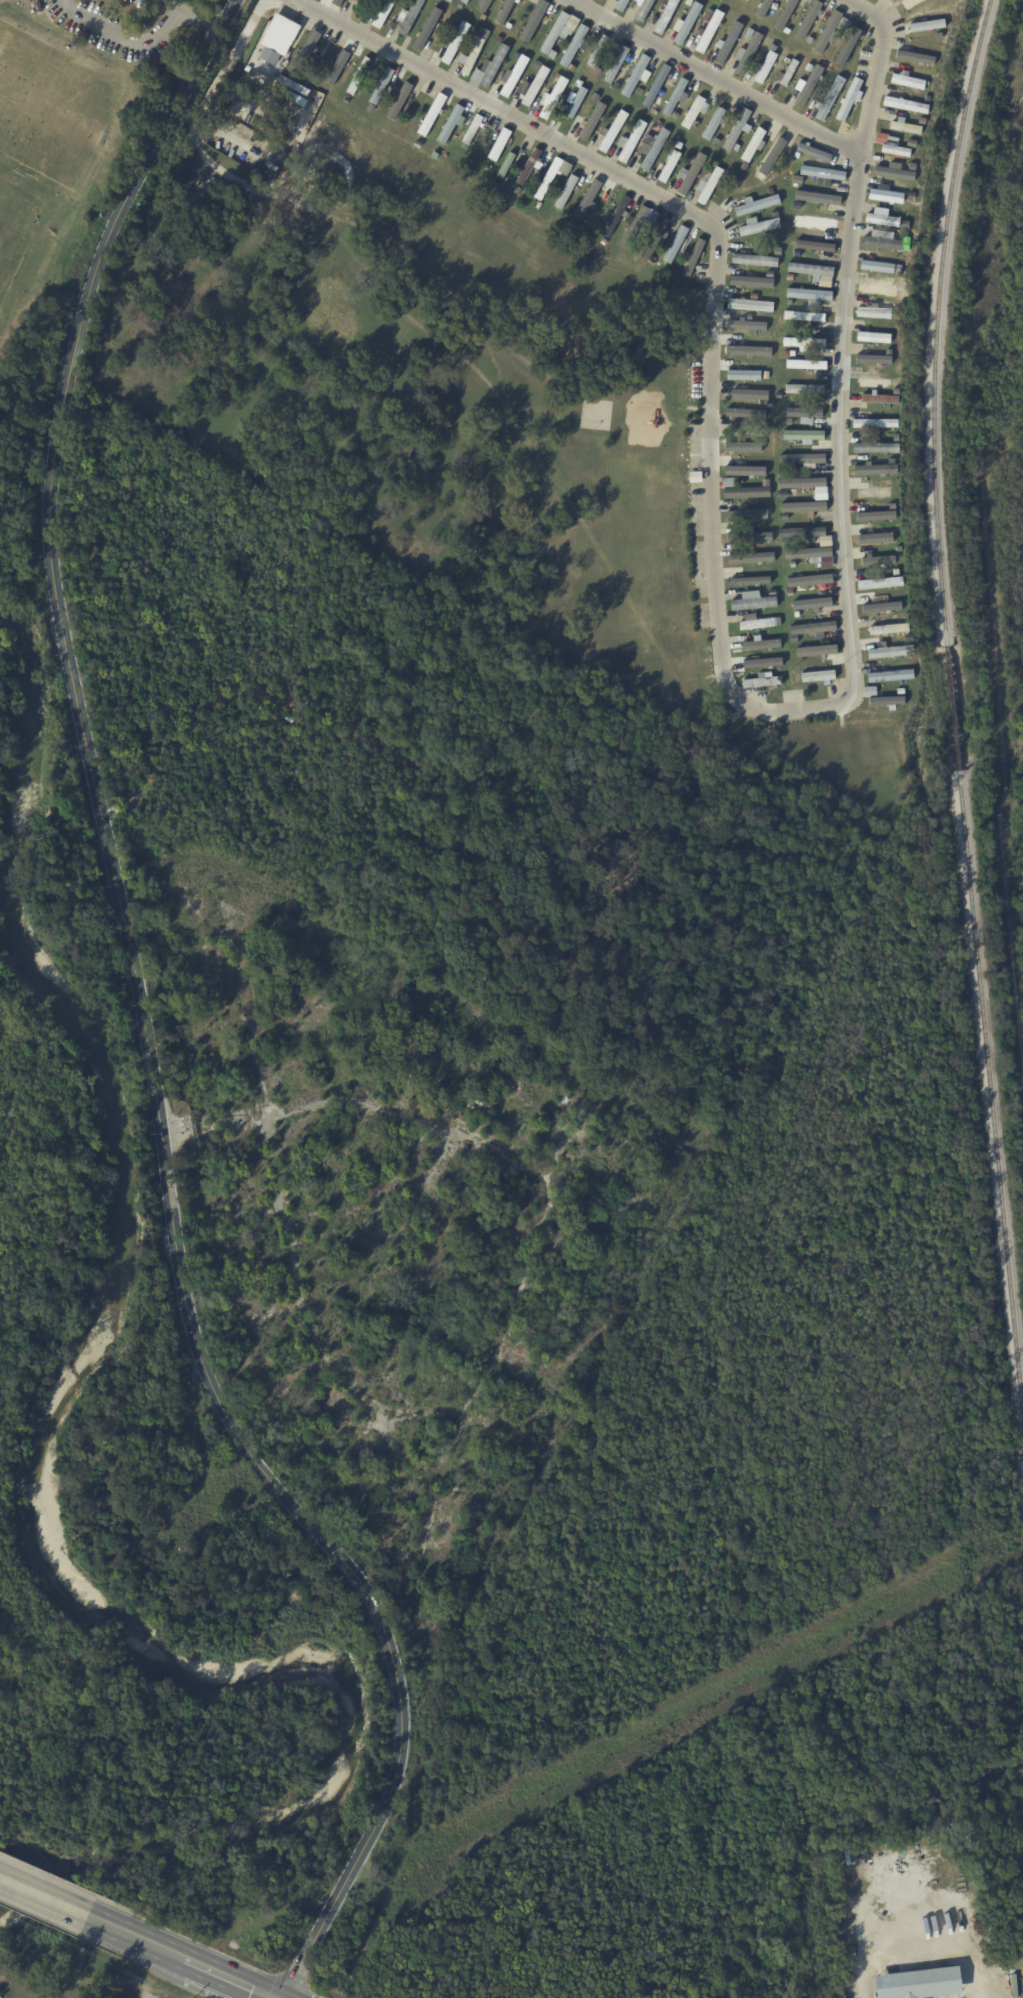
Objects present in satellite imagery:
building: (601, 0)
building: (721, 0)
building: (747, 0)
building: (448, 1)
building: (464, 1)
building: (337, 2)
building: (910, 3)
building: (621, 4)
road: (169, 5)
building: (25, 6)
building: (460, 6)
building: (38, 7)
building: (359, 7)
building: (765, 7)
building: (483, 8)
building: (643, 8)
building: (946, 9)
building: (505, 11)
building: (790, 12)
building: (382, 13)
building: (665, 15)
building: (705, 16)
building: (409, 17)
building: (810, 19)
road: (198, 20)
building: (509, 20)
building: (442, 21)
building: (536, 21)
building: (688, 22)
building: (924, 22)
building: (429, 24)
parking lot: (117, 25)
building: (451, 27)
building: (559, 30)
building: (828, 30)
building: (707, 31)
building: (483, 33)
building: (747, 33)
building: (284, 34)
road: (122, 39)
building: (729, 42)
building: (455, 43)
building: (574, 45)
building: (829, 47)
building: (845, 47)
building: (333, 48)
building: (597, 50)
building: (306, 53)
building: (488, 54)
building: (745, 54)
building: (514, 55)
building: (551, 55)
building: (470, 56)
building: (761, 56)
building: (915, 56)
building: (785, 60)
building: (534, 64)
building: (483, 65)
building: (494, 65)
building: (616, 65)
building: (764, 67)
building: (597, 70)
building: (321, 71)
building: (340, 72)
building: (787, 73)
road: (721, 74)
building: (831, 74)
building: (475, 75)
building: (359, 76)
building: (513, 76)
building: (636, 76)
building: (554, 77)
building: (932, 77)
building: (908, 81)
building: (315, 84)
building: (577, 84)
building: (615, 85)
building: (656, 85)
building: (381, 86)
building: (534, 86)
building: (807, 86)
building: (331, 88)
building: (638, 91)
building: (595, 94)
building: (290, 96)
building: (347, 96)
building: (552, 97)
building: (676, 97)
building: (402, 98)
building: (829, 99)
building: (849, 99)
park: (52, 101)
building: (574, 101)
building: (905, 104)
building: (288, 109)
building: (613, 111)
building: (693, 112)
building: (674, 115)
building: (593, 118)
building: (431, 119)
building: (921, 120)
building: (450, 123)
building: (657, 124)
building: (695, 124)
building: (714, 124)
building: (906, 126)
building: (574, 127)
building: (273, 129)
building: (474, 129)
building: (737, 130)
building: (606, 132)
building: (879, 138)
building: (714, 140)
building: (630, 141)
building: (912, 143)
building: (499, 145)
building: (754, 145)
building: (652, 148)
building: (526, 150)
building: (897, 150)
building: (513, 152)
building: (474, 153)
building: (813, 153)
building: (770, 157)
building: (505, 164)
building: (534, 165)
building: (669, 166)
building: (488, 167)
building: (892, 172)
building: (690, 174)
building: (822, 174)
building: (556, 177)
building: (916, 178)
building: (797, 179)
building: (571, 183)
building: (707, 184)
building: (886, 194)
building: (911, 197)
building: (586, 198)
building: (819, 199)
building: (565, 202)
building: (609, 203)
building: (539, 204)
building: (757, 205)
building: (803, 206)
building: (616, 217)
building: (881, 218)
building: (594, 224)
building: (819, 224)
building: (905, 224)
park: (19, 225)
building: (639, 225)
building: (758, 226)
building: (808, 232)
building: (656, 239)
building: (885, 241)
building: (605, 242)
building: (676, 245)
building: (813, 248)
park: (990, 253)
building: (793, 254)
building: (748, 256)
building: (694, 259)
building: (770, 259)
building: (879, 266)
building: (899, 269)
building: (811, 270)
building: (757, 272)
building: (789, 277)
building: (753, 281)
building: (829, 281)
building: (875, 287)
building: (809, 295)
building: (752, 296)
building: (750, 304)
building: (874, 309)
building: (804, 319)
building: (741, 322)
building: (785, 324)
building: (867, 328)
building: (873, 336)
building: (752, 342)
building: (804, 342)
building: (767, 349)
building: (785, 354)
building: (791, 354)
building: (872, 359)
building: (806, 365)
building: (742, 373)
building: (765, 375)
building: (874, 381)
building: (805, 390)
building: (752, 393)
building: (776, 395)
building: (878, 400)
building: (740, 411)
building: (805, 413)
building: (753, 420)
building: (875, 422)
building: (803, 436)
building: (739, 446)
building: (874, 447)
building: (726, 459)
building: (896, 459)
building: (766, 460)
building: (806, 461)
building: (875, 468)
building: (747, 469)
building: (787, 470)
building: (693, 477)
building: (895, 480)
building: (726, 481)
building: (854, 484)
building: (803, 486)
building: (748, 492)
building: (871, 492)
building: (895, 493)
building: (735, 505)
building: (768, 505)
building: (804, 510)
building: (876, 514)
building: (748, 515)
building: (788, 521)
building: (760, 528)
building: (752, 529)
building: (801, 533)
building: (872, 534)
building: (752, 536)
building: (733, 537)
building: (784, 543)
building: (769, 548)
building: (809, 554)
building: (749, 557)
building: (874, 559)
building: (752, 573)
building: (809, 580)
building: (748, 581)
building: (874, 586)
building: (771, 590)
building: (789, 591)
building: (752, 602)
building: (811, 604)
building: (897, 606)
building: (877, 607)
building: (814, 612)
building: (777, 621)
building: (754, 622)
building: (884, 628)
building: (812, 629)
building: (794, 639)
road: (720, 645)
building: (759, 647)
building: (889, 653)
building: (800, 654)
building: (826, 655)
building: (765, 663)
building: (817, 676)
building: (888, 676)
building: (795, 678)
building: (763, 680)
building: (881, 701)
railway: (946, 718)
road: (136, 1021)
road: (66, 1906)
road: (925, 1950)
road: (201, 1966)
wastewater plant: (70, 1974)
building: (916, 1983)

